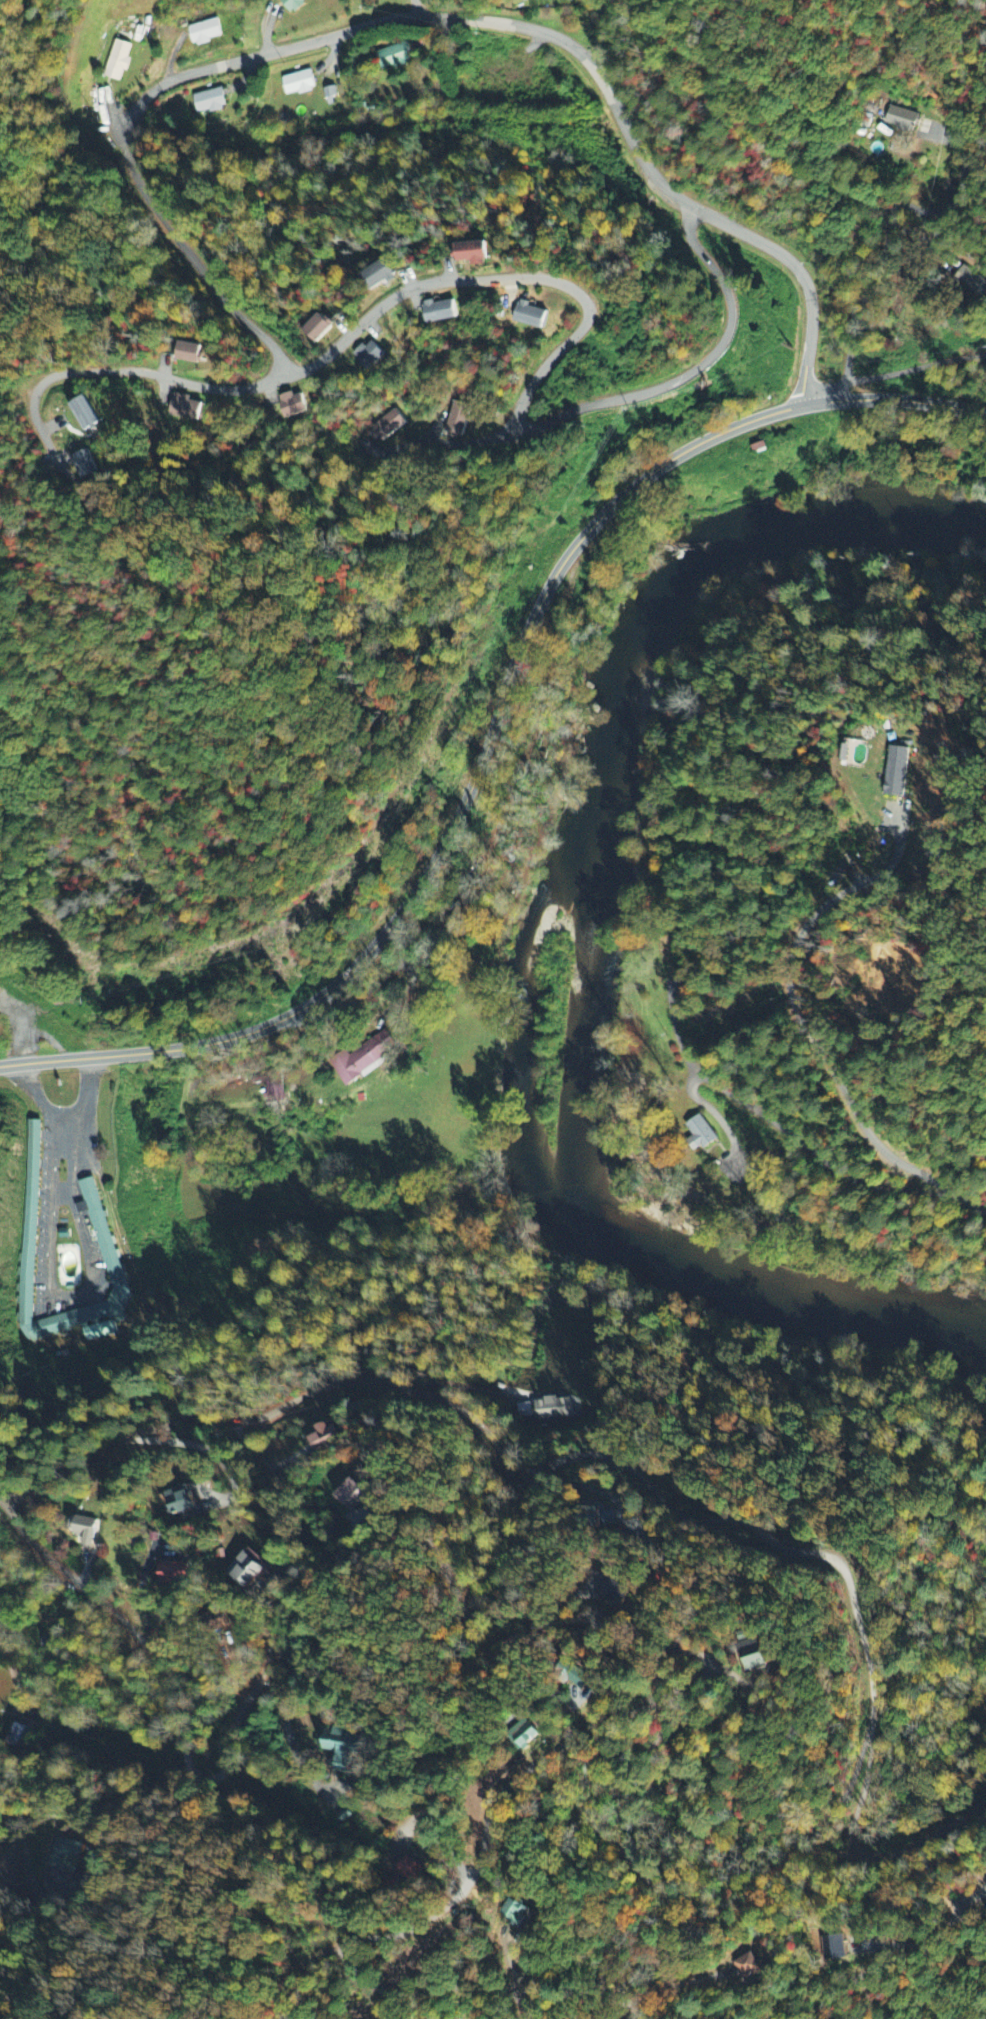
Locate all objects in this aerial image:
building: (526, 0)
building: (291, 4)
road: (417, 8)
road: (415, 17)
building: (204, 33)
building: (393, 58)
building: (116, 62)
building: (298, 84)
building: (330, 93)
building: (209, 102)
building: (901, 121)
road: (888, 232)
building: (475, 250)
building: (378, 276)
building: (972, 282)
building: (439, 312)
building: (531, 316)
road: (361, 324)
building: (317, 328)
building: (189, 354)
building: (369, 356)
road: (693, 372)
building: (294, 406)
building: (185, 409)
building: (83, 415)
building: (458, 419)
building: (389, 426)
building: (758, 446)
building: (84, 466)
river: (823, 515)
road: (521, 643)
building: (894, 771)
building: (45, 988)
parking lot: (38, 1007)
road: (23, 1030)
road: (47, 1033)
building: (363, 1057)
road: (87, 1058)
building: (273, 1090)
river: (582, 1097)
road: (64, 1115)
building: (698, 1134)
road: (828, 1166)
road: (62, 1191)
parking lot: (42, 1214)
building: (104, 1231)
parking lot: (96, 1255)
road: (70, 1293)
parking lot: (69, 1302)
building: (97, 1331)
building: (550, 1409)
building: (322, 1436)
road: (627, 1470)
building: (349, 1495)
road: (0, 1496)
building: (178, 1500)
building: (82, 1530)
building: (246, 1569)
building: (172, 1572)
building: (612, 1595)
road: (120, 1618)
building: (750, 1652)
road: (650, 1670)
building: (572, 1675)
building: (18, 1735)
building: (522, 1735)
building: (340, 1749)
road: (23, 1844)
road: (627, 1859)
building: (407, 1869)
building: (985, 1881)
road: (889, 1900)
building: (515, 1914)
building: (833, 1948)
building: (749, 1967)

